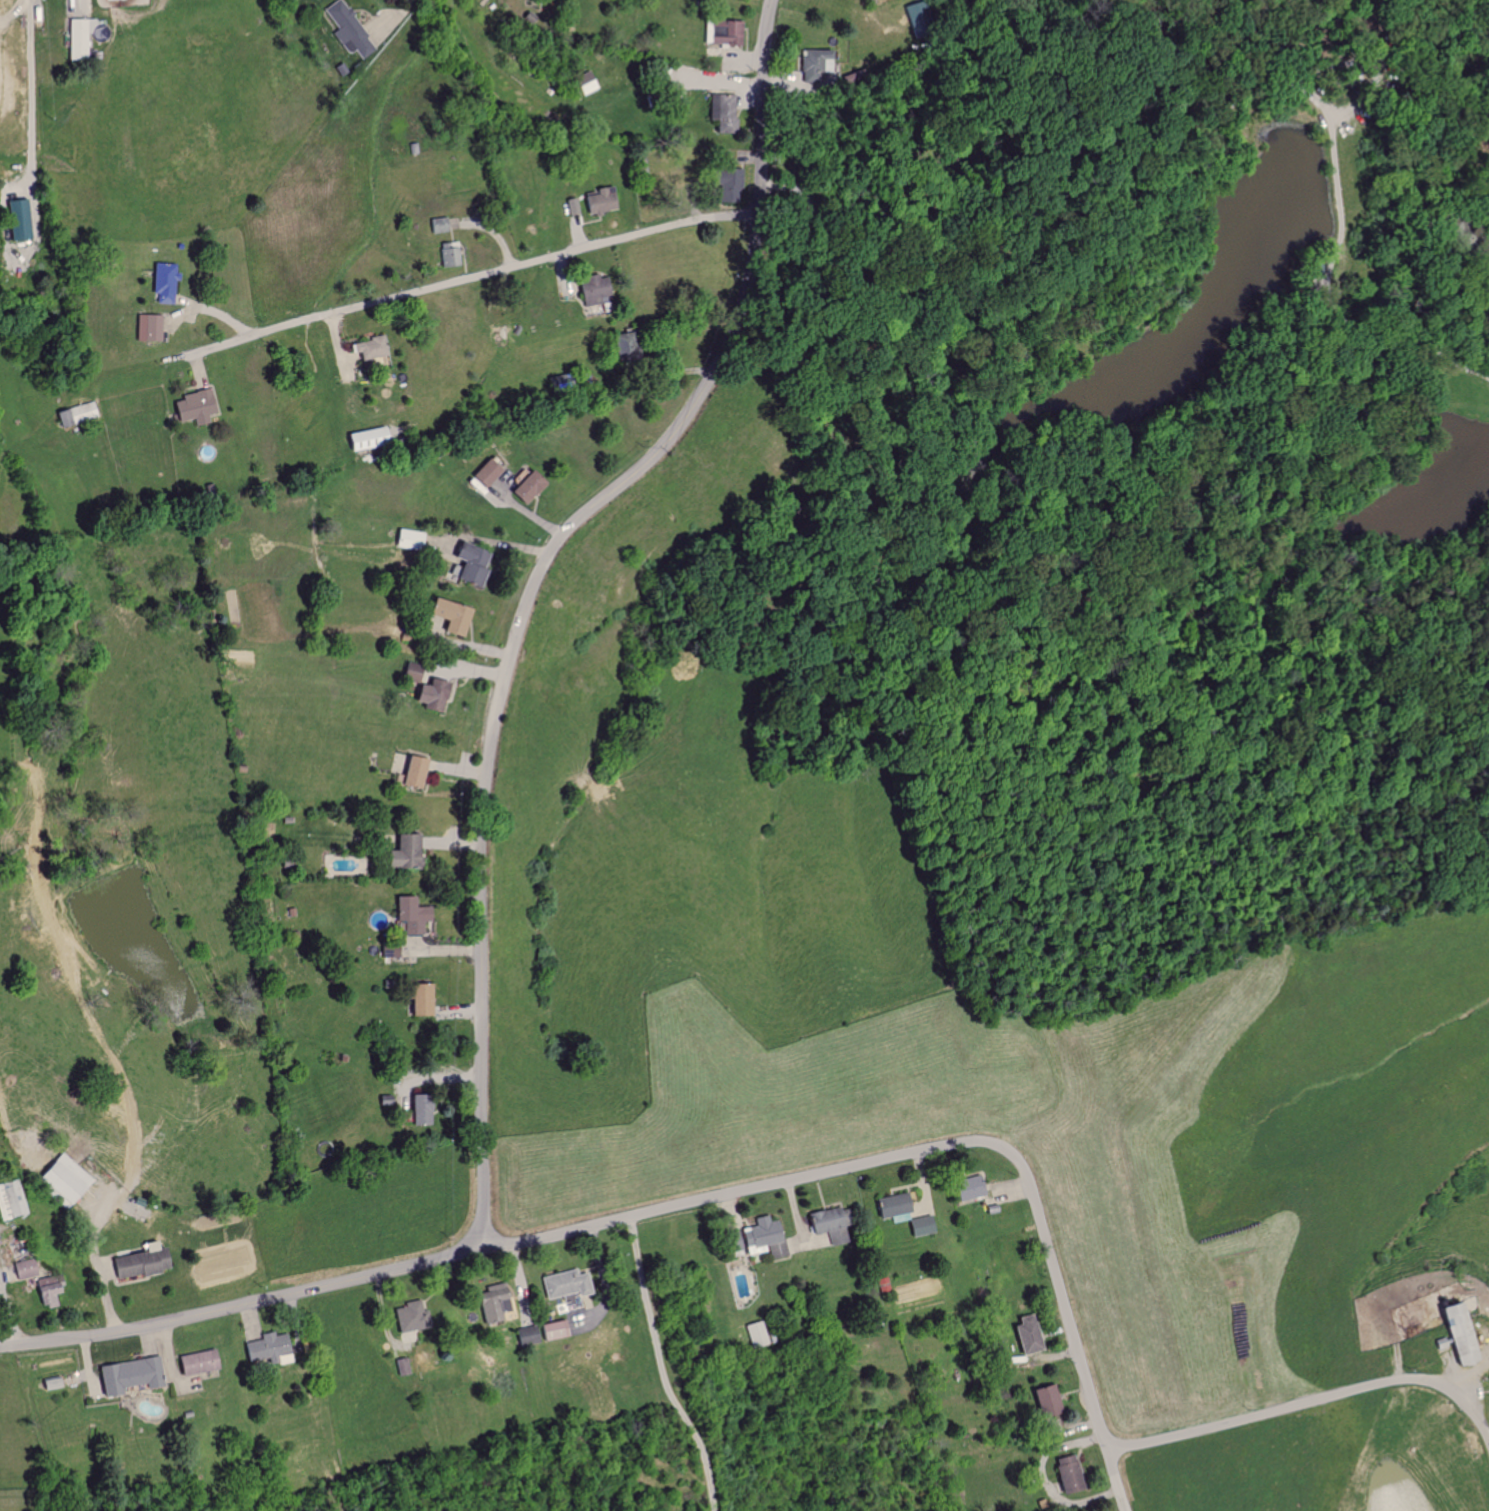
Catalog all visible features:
road: (406, 5)
building: (348, 30)
building: (721, 32)
building: (810, 63)
road: (31, 82)
building: (724, 113)
building: (726, 183)
building: (600, 200)
building: (573, 206)
building: (16, 219)
building: (438, 224)
building: (448, 255)
building: (13, 261)
road: (465, 279)
building: (162, 282)
building: (596, 292)
building: (148, 327)
building: (368, 347)
building: (192, 407)
building: (76, 414)
building: (365, 437)
building: (485, 473)
building: (524, 484)
building: (408, 538)
building: (469, 563)
road: (530, 589)
building: (448, 615)
building: (409, 673)
building: (431, 694)
building: (411, 772)
building: (400, 852)
building: (409, 913)
building: (390, 949)
building: (418, 999)
building: (423, 1114)
road: (900, 1156)
building: (64, 1178)
building: (964, 1188)
building: (8, 1200)
building: (890, 1207)
road: (792, 1215)
building: (826, 1224)
building: (918, 1226)
building: (753, 1240)
building: (136, 1262)
road: (97, 1264)
building: (22, 1269)
building: (561, 1287)
building: (45, 1290)
road: (243, 1304)
building: (486, 1304)
building: (406, 1317)
building: (551, 1330)
building: (754, 1334)
building: (1453, 1334)
building: (523, 1335)
building: (1024, 1335)
building: (264, 1346)
building: (194, 1362)
road: (663, 1367)
building: (125, 1375)
building: (1043, 1400)
road: (1311, 1401)
building: (1065, 1474)
road: (1114, 1481)

